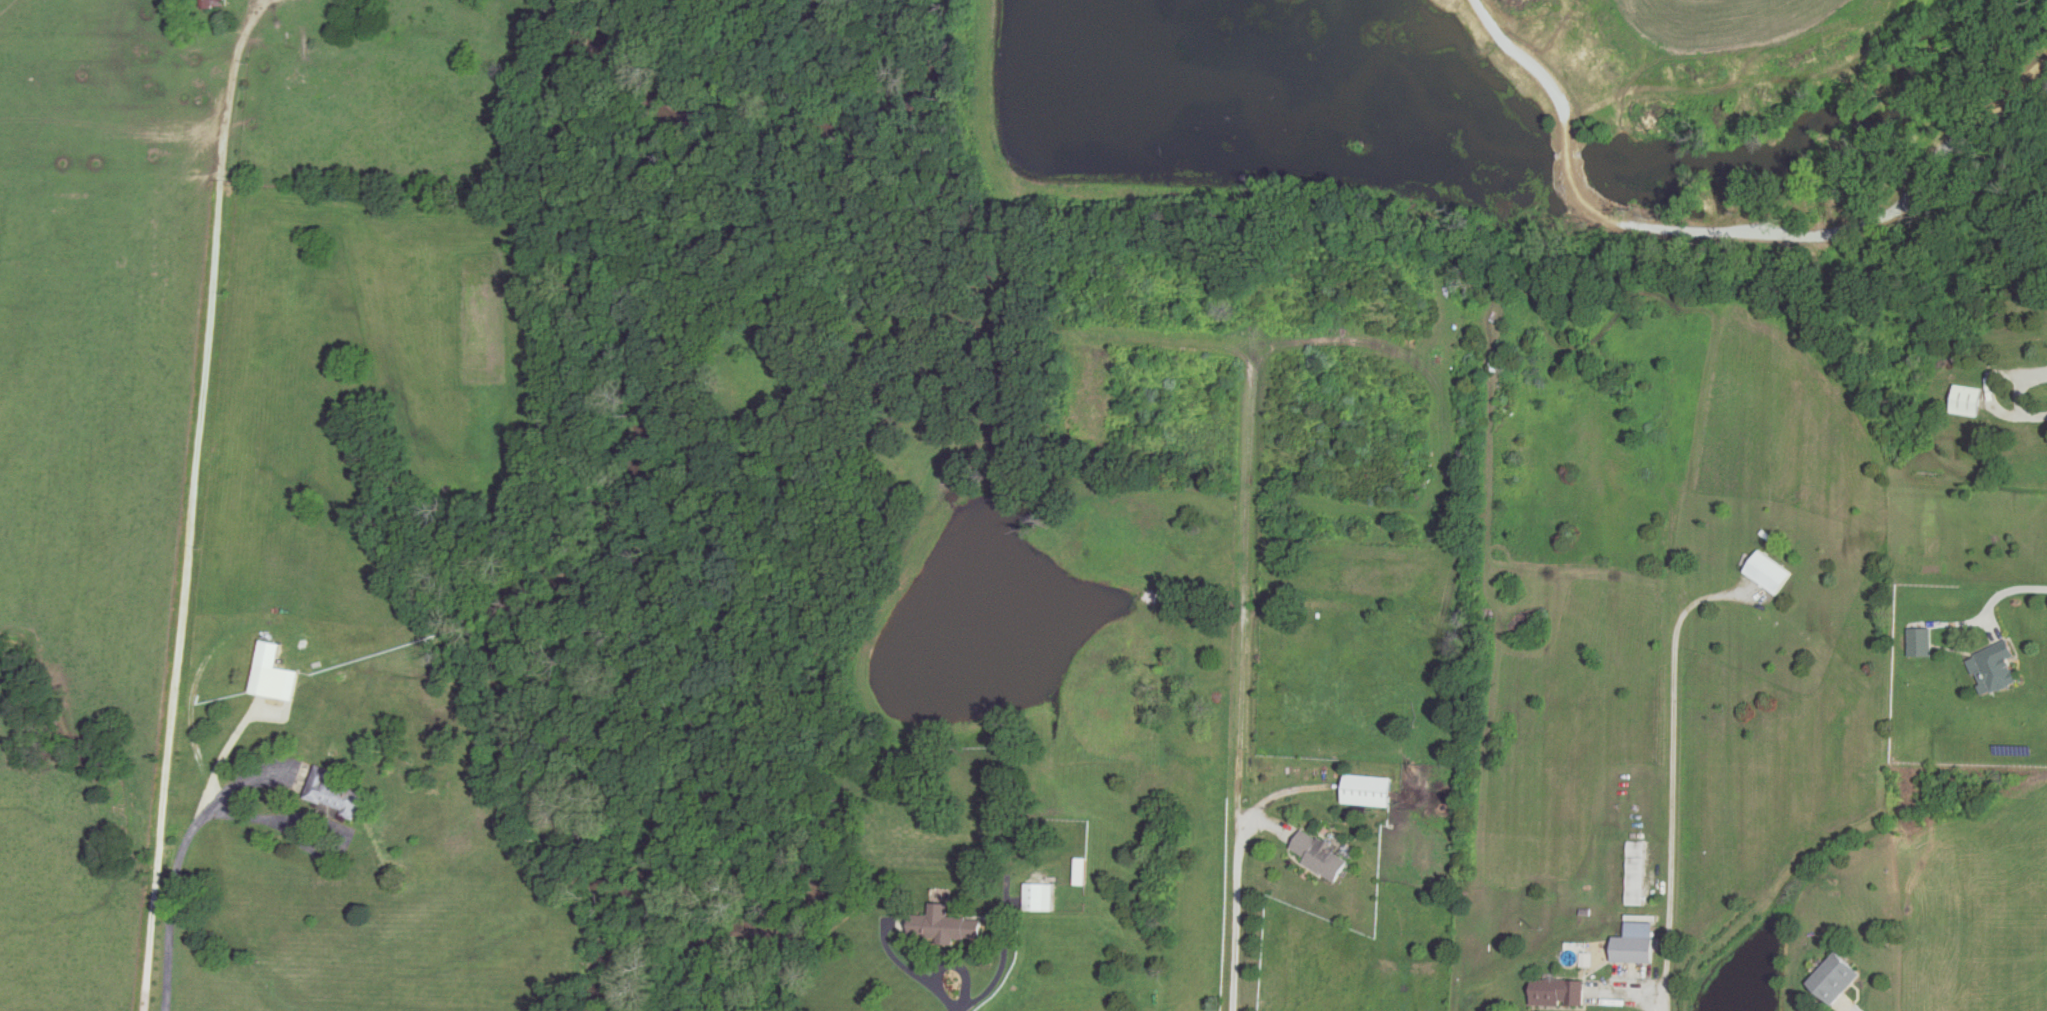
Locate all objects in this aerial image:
crop: (1679, 47)
building: (1964, 401)
building: (1766, 573)
building: (1918, 642)
building: (1992, 668)
building: (278, 681)
building: (331, 789)
building: (1371, 790)
building: (1321, 855)
road: (175, 867)
building: (1082, 870)
building: (1634, 872)
building: (1039, 896)
building: (1631, 943)
building: (1830, 978)
building: (1553, 991)

